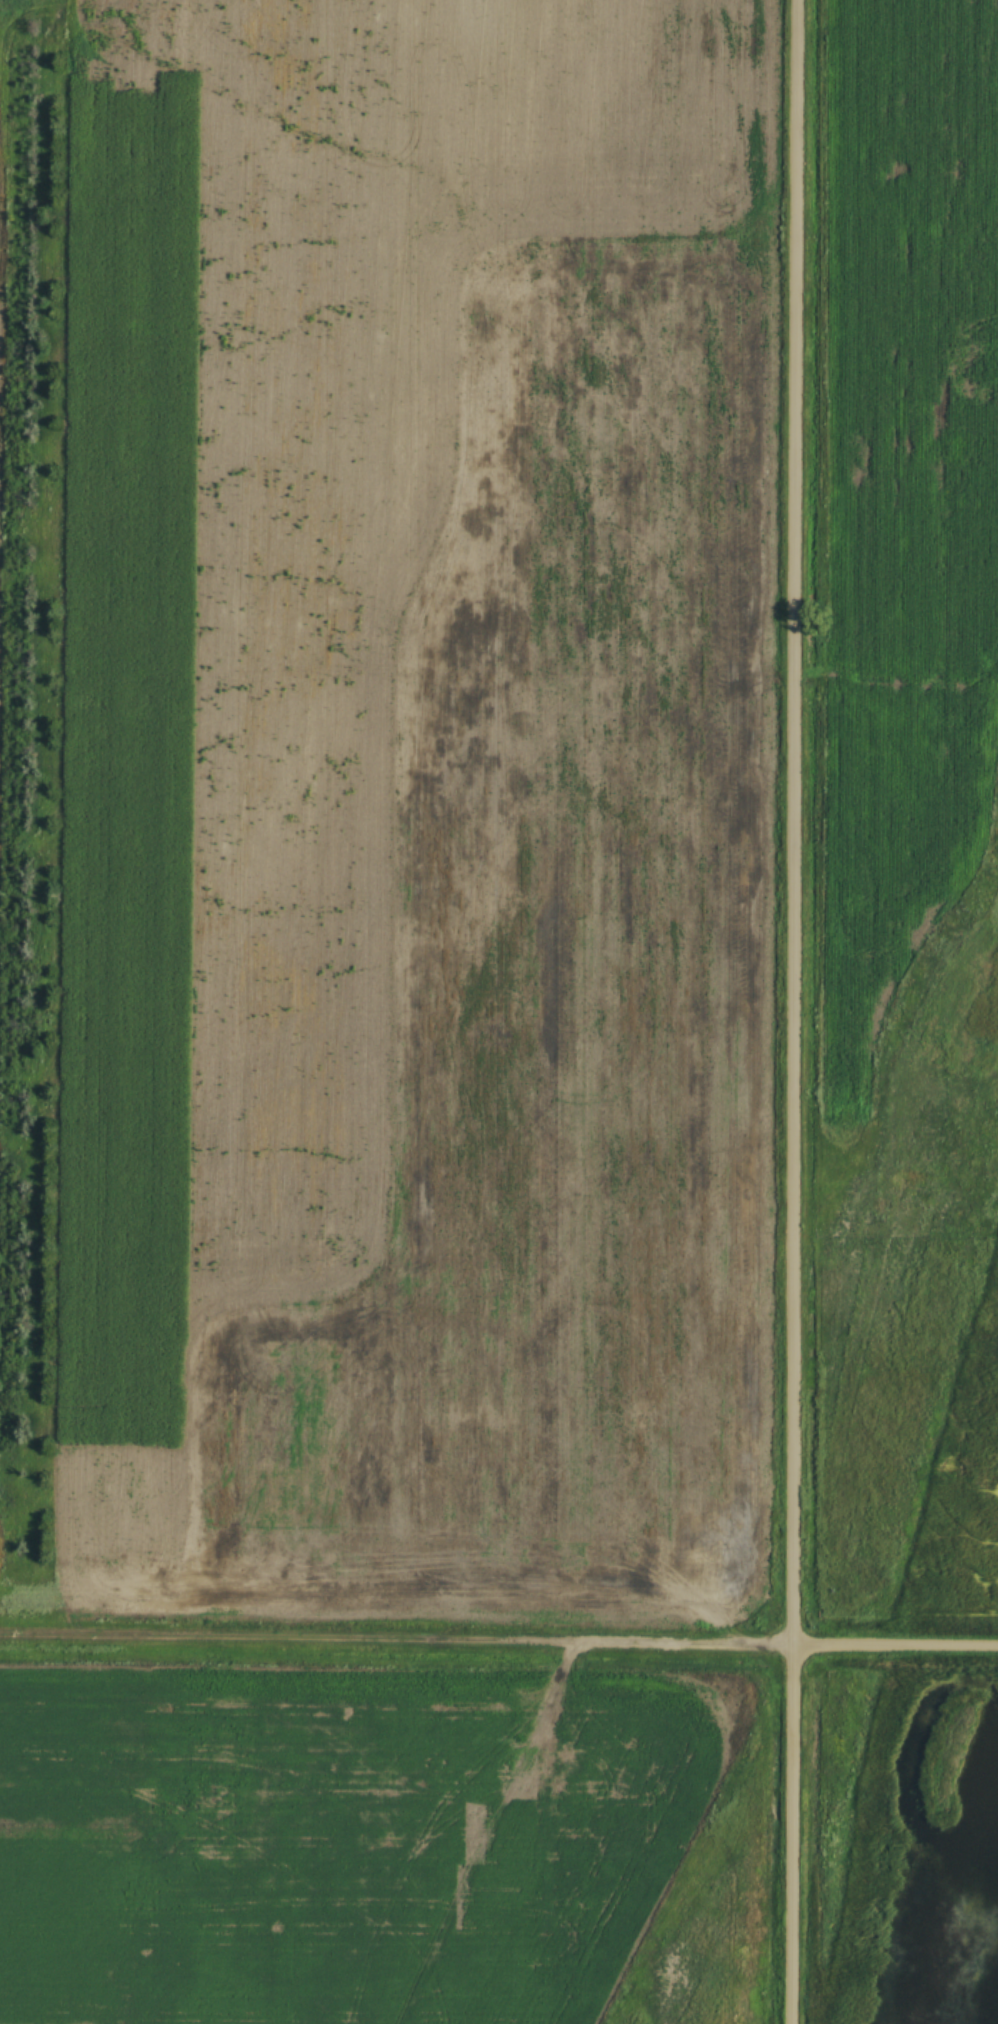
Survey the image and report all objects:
road: (795, 1011)
road: (499, 1633)

